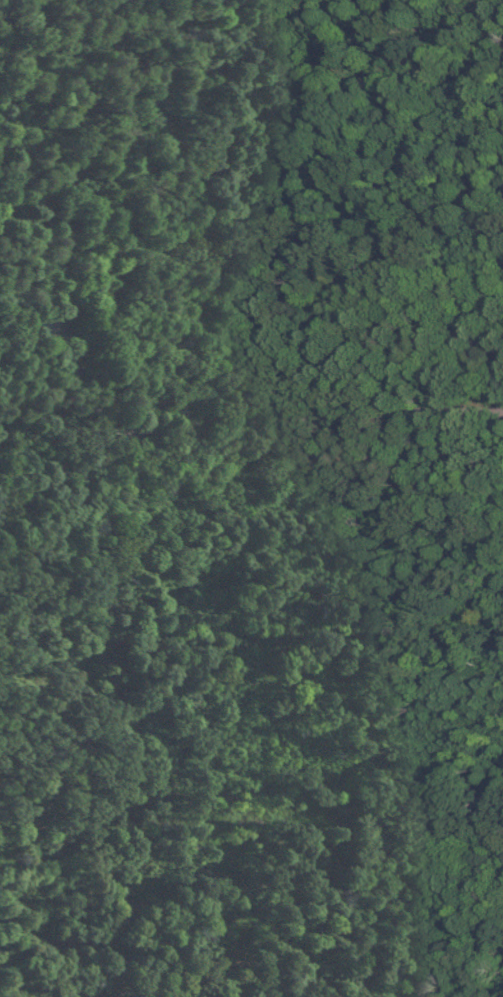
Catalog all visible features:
road: (92, 406)

